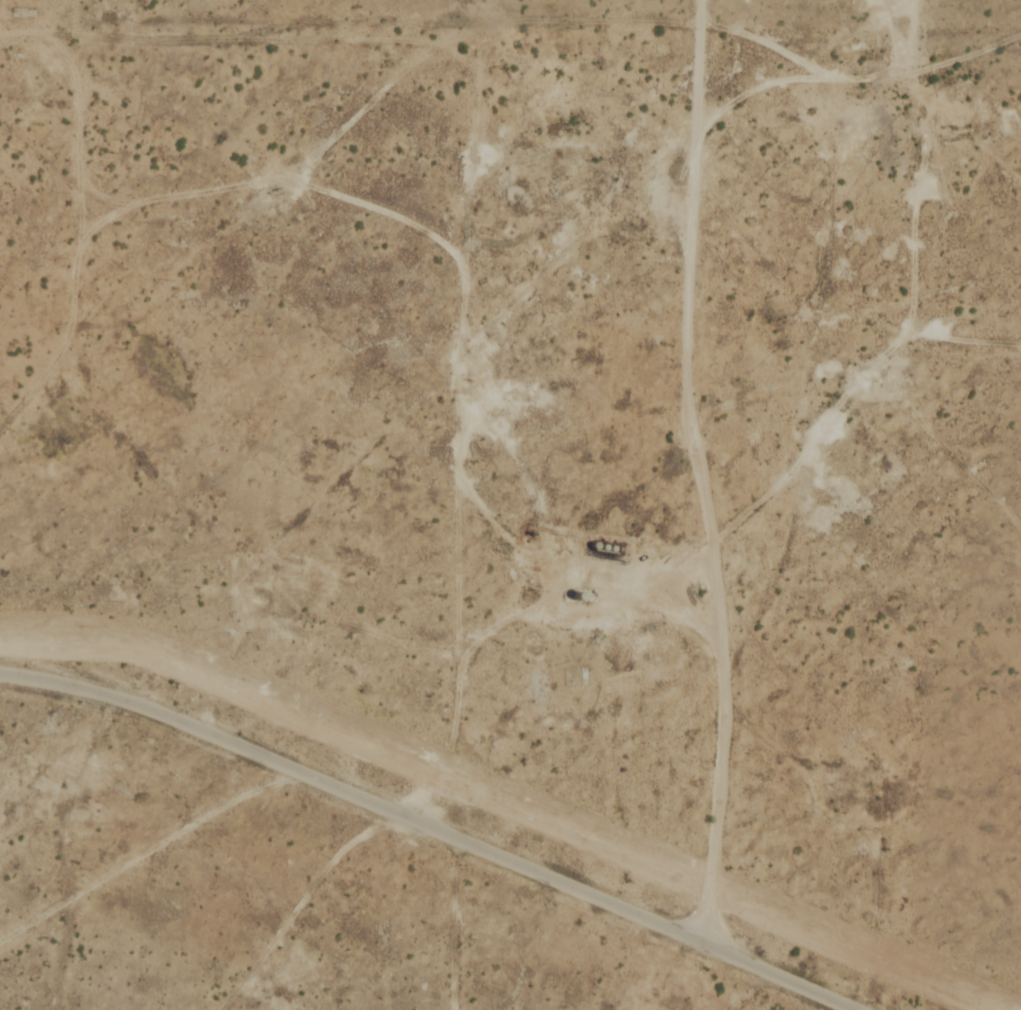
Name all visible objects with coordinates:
road: (734, 27)
road: (1009, 43)
road: (743, 77)
road: (83, 172)
road: (268, 191)
road: (70, 211)
road: (900, 255)
road: (501, 286)
road: (458, 305)
road: (956, 341)
road: (787, 366)
road: (670, 471)
road: (499, 526)
road: (62, 795)
road: (433, 827)
road: (147, 853)
road: (292, 885)
road: (263, 988)
road: (837, 1006)

